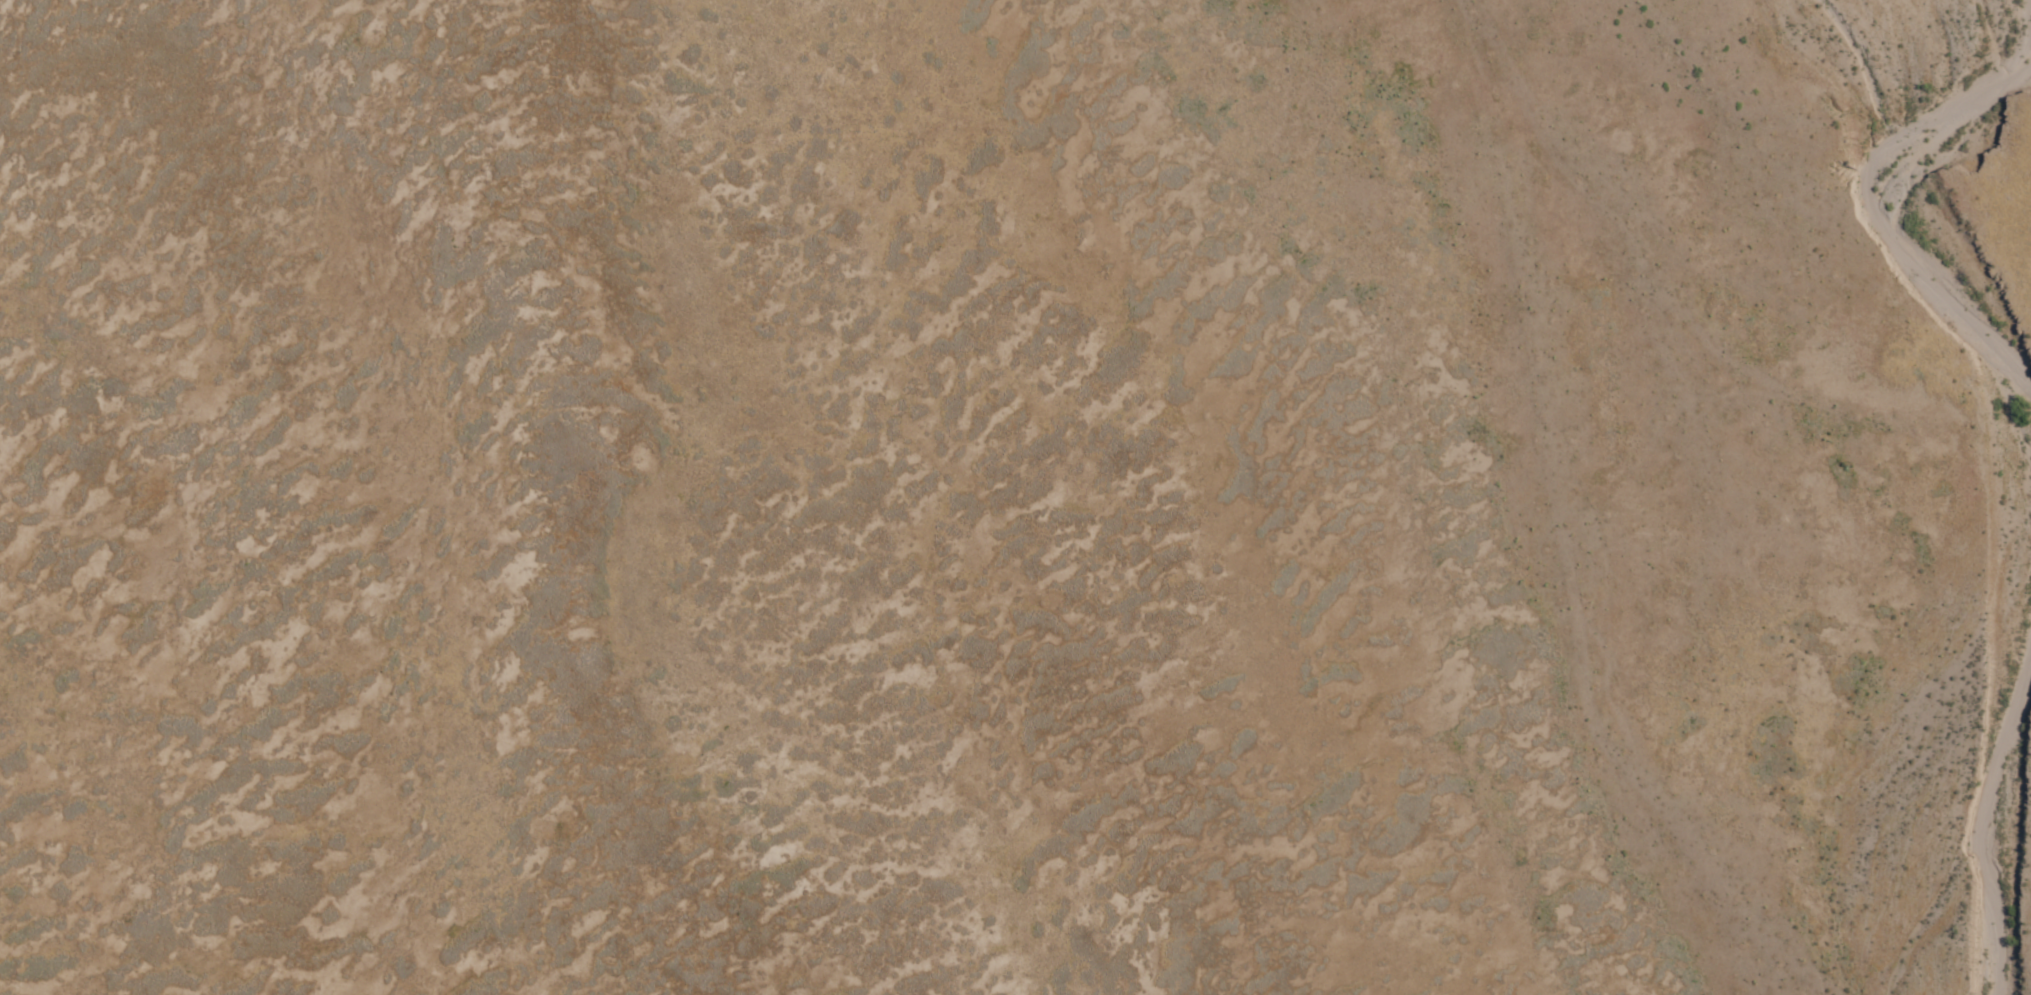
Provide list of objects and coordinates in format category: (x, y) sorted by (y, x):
river: (1921, 241)
river: (1999, 772)

